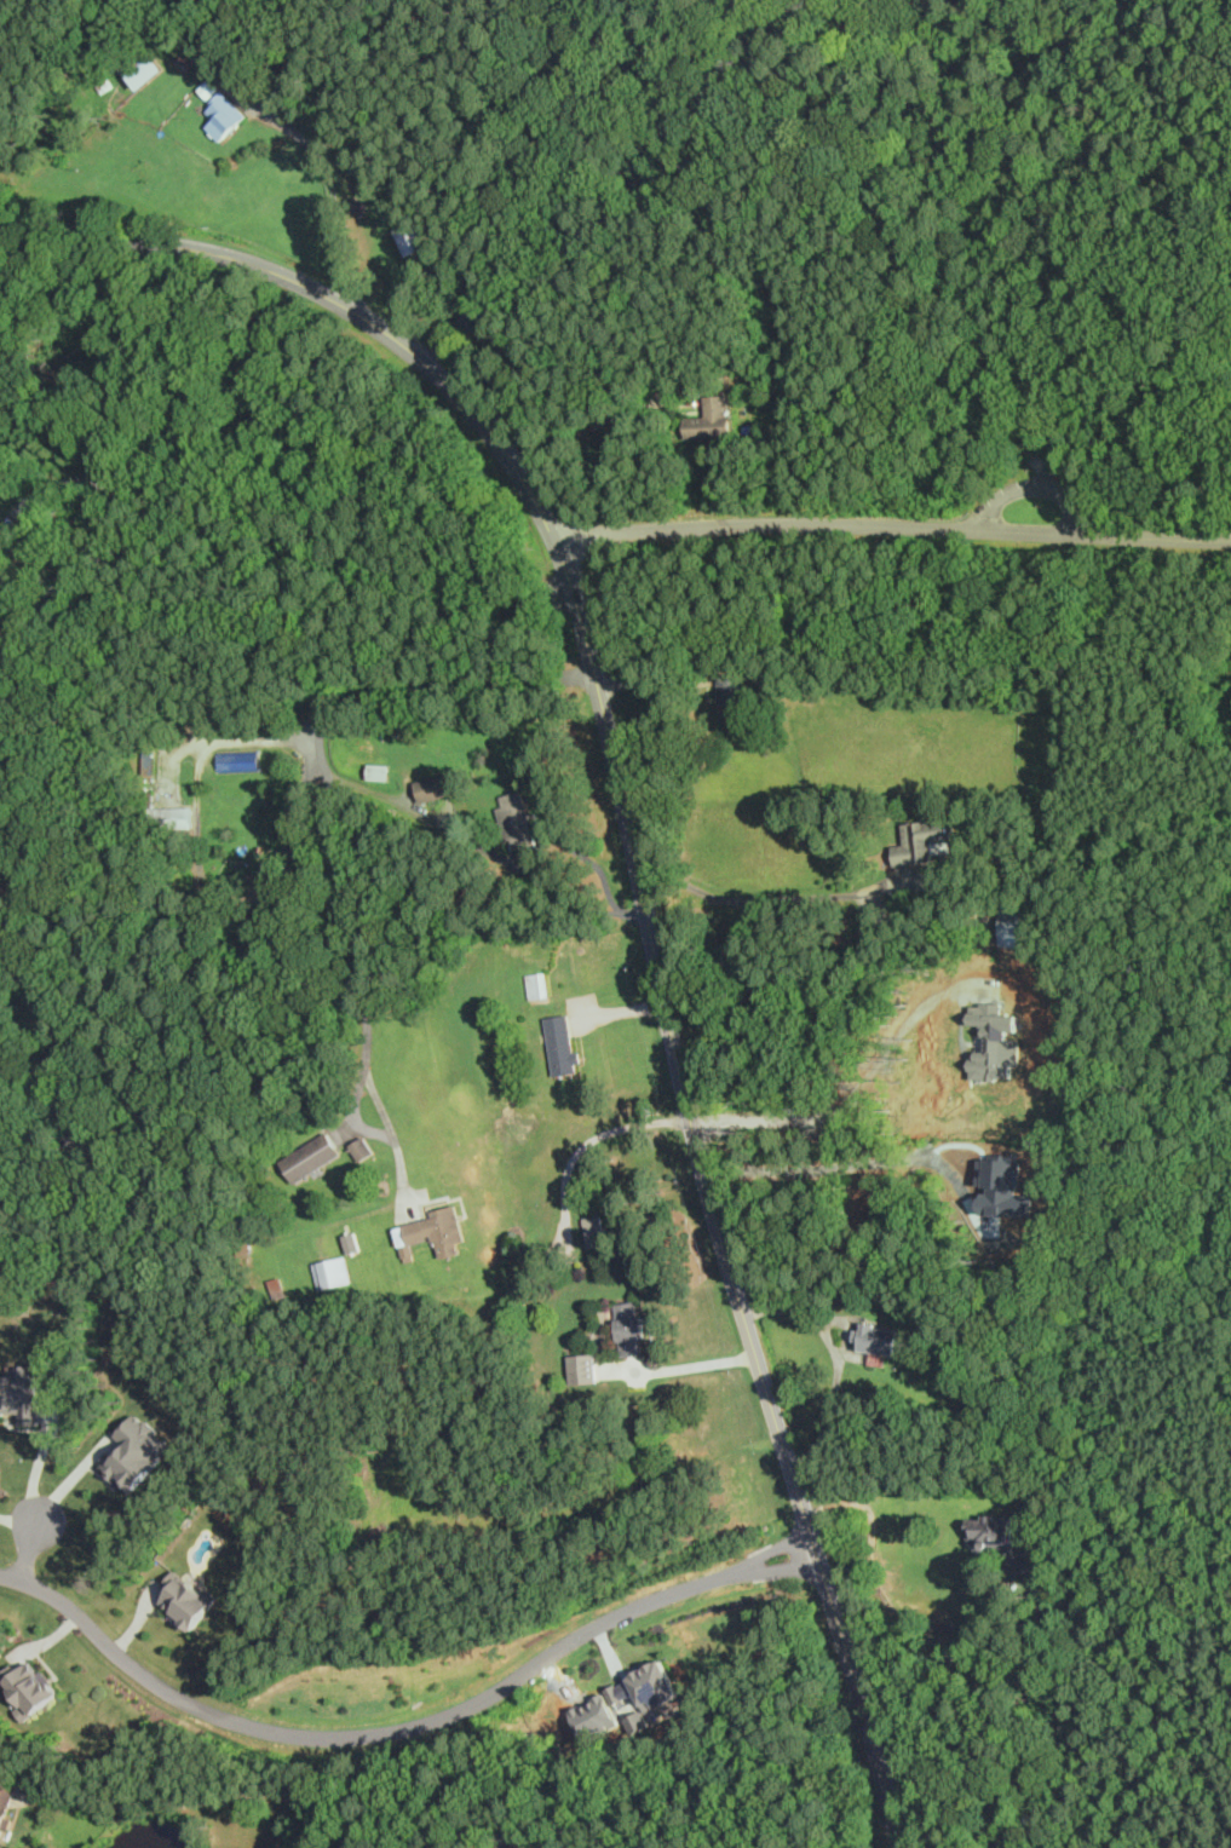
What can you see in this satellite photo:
building: (191, 47)
road: (893, 64)
building: (148, 69)
building: (228, 116)
road: (330, 178)
building: (414, 240)
road: (441, 313)
building: (476, 323)
park: (873, 407)
building: (711, 419)
road: (597, 431)
building: (0, 482)
road: (1039, 487)
road: (893, 525)
road: (257, 542)
road: (74, 575)
road: (28, 585)
road: (640, 685)
road: (339, 697)
building: (735, 698)
building: (382, 773)
building: (441, 788)
building: (520, 823)
road: (482, 848)
building: (927, 848)
road: (637, 867)
road: (764, 899)
road: (577, 900)
building: (1012, 927)
building: (540, 988)
road: (620, 1012)
building: (995, 1043)
building: (565, 1048)
road: (369, 1077)
road: (841, 1103)
building: (361, 1147)
building: (311, 1157)
road: (845, 1167)
road: (571, 1169)
building: (439, 1230)
building: (599, 1234)
building: (333, 1272)
building: (633, 1332)
building: (884, 1342)
road: (654, 1347)
road: (836, 1361)
road: (678, 1370)
building: (586, 1372)
building: (21, 1395)
building: (134, 1452)
road: (38, 1467)
road: (69, 1478)
road: (18, 1522)
building: (995, 1533)
road: (29, 1551)
building: (186, 1599)
road: (891, 1620)
building: (29, 1687)
building: (643, 1694)
road: (403, 1729)
road: (188, 1807)
building: (6, 1809)

